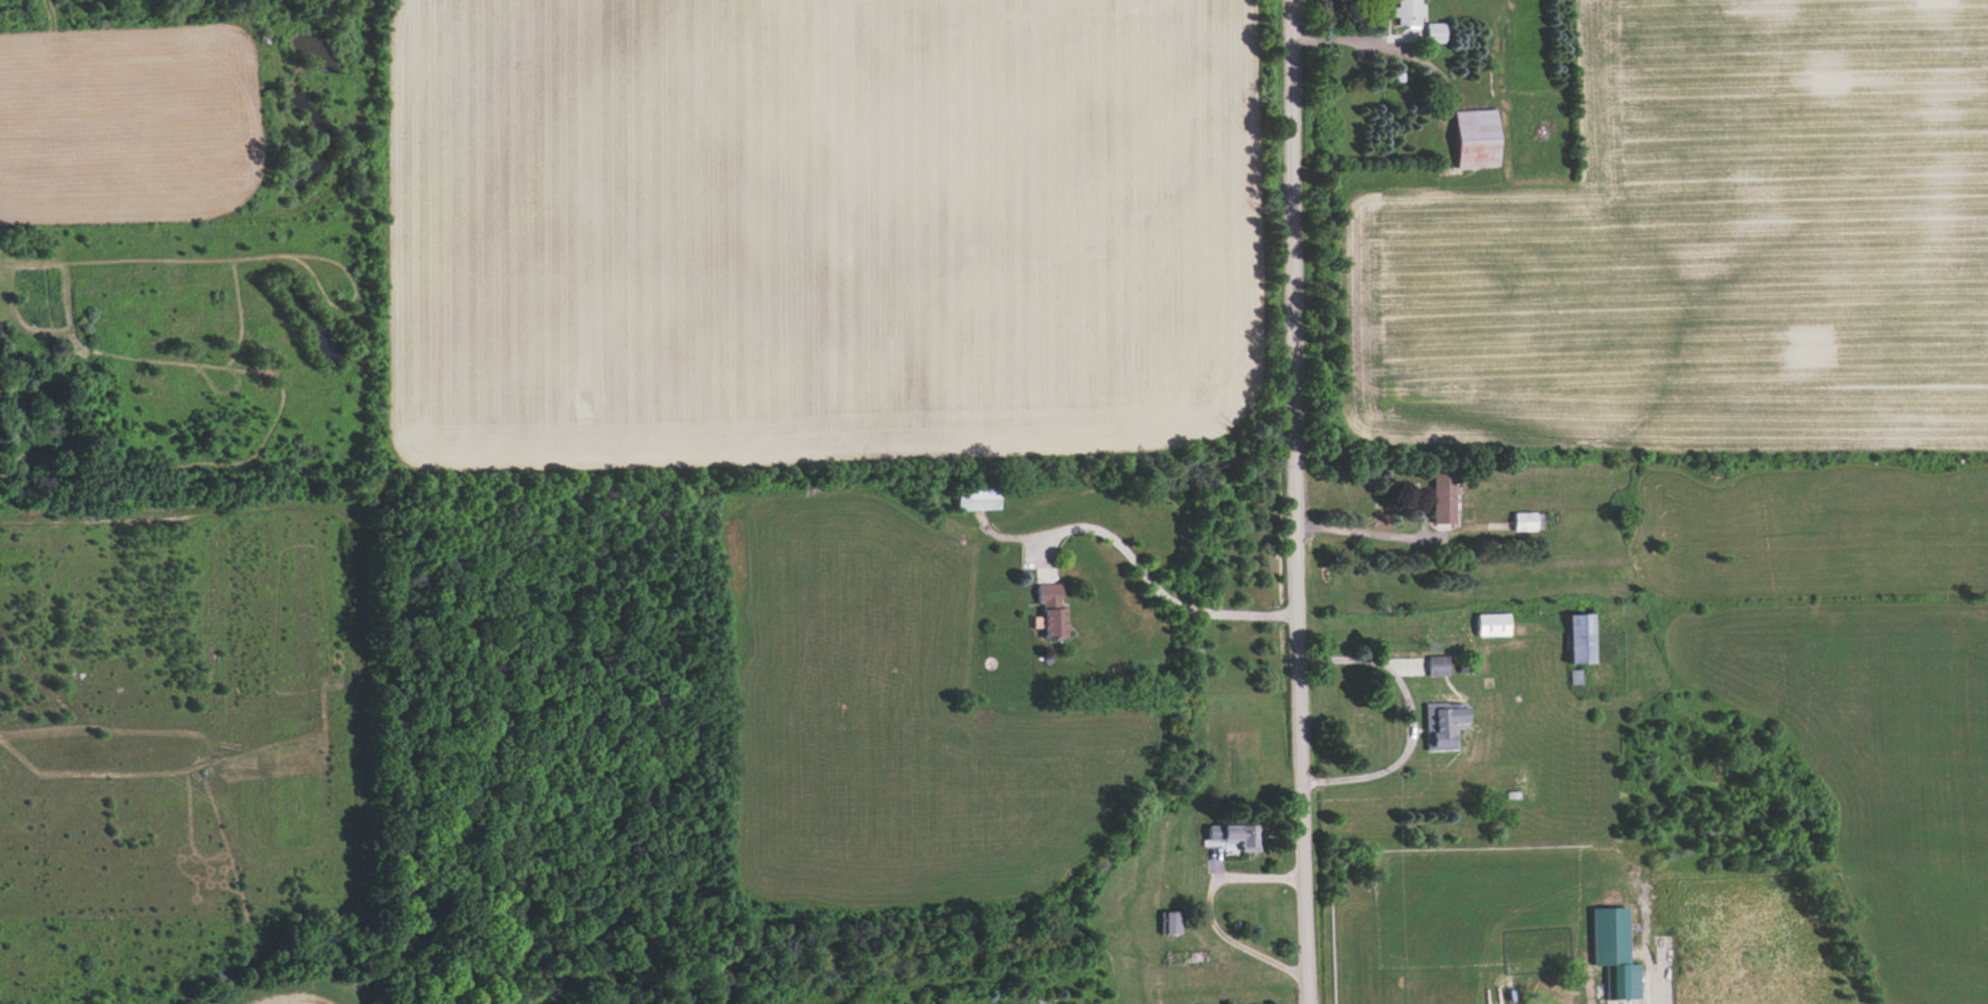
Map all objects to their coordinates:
building: (1407, 12)
building: (1434, 33)
road: (1342, 38)
building: (1475, 138)
building: (1441, 496)
building: (976, 499)
road: (1292, 502)
building: (1527, 521)
road: (1365, 532)
road: (1151, 584)
building: (1050, 610)
building: (1491, 624)
building: (1579, 638)
building: (1436, 665)
road: (1406, 719)
building: (1445, 724)
building: (1234, 835)
road: (1207, 912)
building: (1170, 923)
building: (1614, 951)

